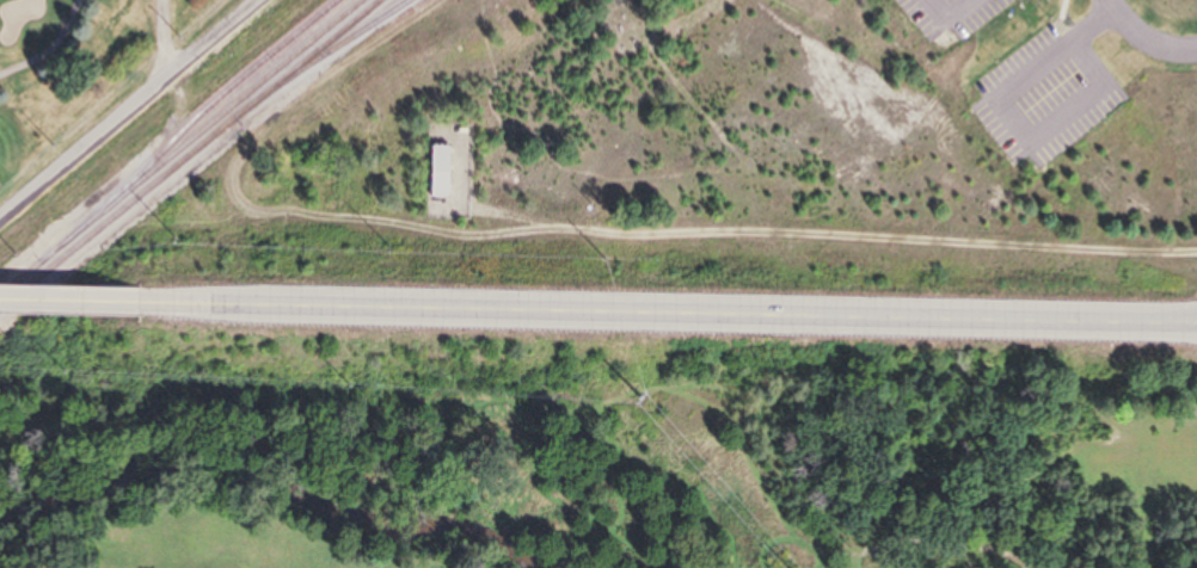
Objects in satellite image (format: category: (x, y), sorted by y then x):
road: (1150, 32)
road: (50, 49)
railway: (323, 56)
park: (82, 70)
road: (135, 113)
railway: (188, 128)
railway: (182, 147)
railway: (190, 155)
building: (435, 173)
road: (63, 302)
road: (662, 314)
power tower: (647, 393)

